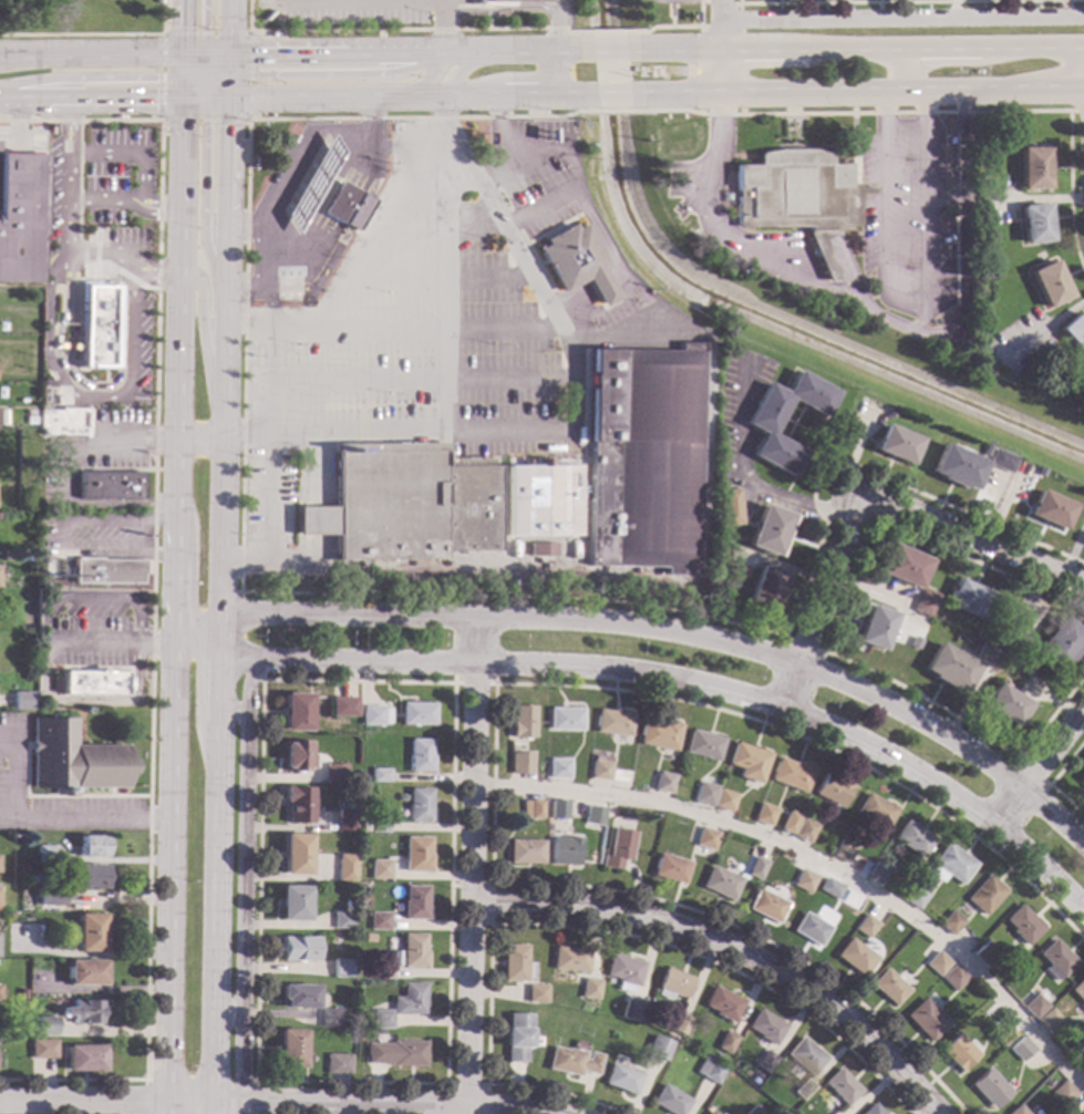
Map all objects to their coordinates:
road: (856, 1)
building: (503, 2)
road: (500, 8)
parking lot: (368, 11)
road: (486, 13)
park: (81, 16)
road: (900, 18)
road: (441, 25)
road: (682, 25)
traffic signals: (178, 27)
road: (206, 27)
traffic signals: (206, 27)
road: (228, 27)
road: (178, 28)
road: (392, 29)
road: (605, 31)
road: (96, 33)
road: (719, 47)
road: (696, 48)
road: (556, 49)
road: (509, 50)
road: (608, 50)
road: (860, 50)
road: (333, 53)
road: (216, 54)
traffic signals: (227, 54)
traffic signals: (256, 54)
road: (441, 54)
road: (452, 54)
road: (87, 55)
traffic signals: (177, 55)
road: (192, 55)
road: (740, 58)
road: (190, 60)
road: (206, 61)
road: (218, 62)
road: (177, 64)
road: (227, 64)
road: (464, 64)
road: (204, 69)
road: (899, 69)
road: (189, 72)
road: (208, 72)
road: (204, 73)
road: (334, 73)
road: (217, 74)
traffic signals: (255, 74)
road: (87, 75)
traffic signals: (155, 75)
road: (207, 76)
road: (187, 83)
road: (420, 85)
road: (177, 86)
road: (227, 86)
road: (206, 87)
road: (863, 89)
road: (214, 90)
road: (568, 96)
road: (612, 96)
road: (363, 97)
road: (527, 97)
road: (89, 99)
traffic signals: (155, 99)
traffic signals: (177, 99)
road: (192, 99)
road: (216, 99)
traffic signals: (227, 99)
road: (610, 109)
road: (1076, 110)
road: (939, 112)
road: (369, 115)
road: (249, 117)
road: (18, 122)
traffic signals: (205, 126)
traffic signals: (227, 126)
road: (817, 144)
road: (564, 146)
road: (851, 148)
road: (226, 154)
road: (299, 158)
building: (984, 163)
building: (1031, 168)
road: (492, 174)
road: (141, 175)
road: (79, 179)
parking lot: (99, 185)
road: (925, 189)
road: (204, 195)
building: (796, 197)
building: (300, 202)
gas station: (307, 203)
road: (941, 203)
road: (157, 206)
building: (347, 206)
building: (20, 216)
road: (880, 218)
parking lot: (904, 221)
road: (246, 223)
road: (68, 224)
building: (1033, 224)
road: (435, 228)
road: (711, 229)
road: (958, 233)
road: (363, 238)
road: (809, 241)
building: (979, 249)
road: (95, 252)
road: (83, 257)
road: (519, 259)
building: (574, 264)
road: (611, 265)
road: (435, 277)
road: (99, 279)
road: (135, 280)
building: (1047, 285)
road: (249, 292)
road: (173, 310)
road: (63, 316)
parking lot: (424, 319)
road: (880, 319)
building: (97, 326)
road: (434, 329)
road: (245, 330)
road: (289, 330)
building: (1073, 333)
road: (203, 337)
building: (989, 342)
road: (419, 379)
building: (1023, 379)
building: (47, 383)
road: (93, 385)
road: (704, 389)
road: (83, 396)
road: (221, 413)
building: (887, 413)
building: (64, 423)
road: (421, 429)
building: (761, 429)
road: (245, 433)
building: (894, 445)
road: (64, 447)
building: (983, 451)
building: (642, 458)
building: (999, 462)
building: (1026, 467)
building: (954, 468)
road: (110, 470)
road: (269, 471)
road: (737, 483)
building: (111, 485)
building: (540, 501)
road: (865, 503)
building: (405, 504)
building: (727, 507)
building: (1049, 510)
road: (320, 518)
road: (113, 523)
road: (158, 524)
building: (766, 530)
road: (140, 539)
building: (720, 545)
building: (539, 550)
road: (100, 553)
building: (900, 567)
road: (442, 569)
building: (107, 570)
road: (172, 580)
road: (562, 582)
building: (764, 587)
road: (153, 591)
road: (344, 595)
building: (967, 599)
road: (95, 600)
building: (922, 604)
parking lot: (96, 628)
road: (196, 628)
building: (873, 628)
road: (680, 632)
road: (827, 635)
road: (241, 639)
road: (110, 642)
building: (912, 643)
building: (1057, 644)
building: (1021, 647)
road: (85, 654)
building: (987, 656)
road: (452, 661)
building: (1005, 661)
road: (107, 667)
building: (948, 668)
road: (218, 669)
road: (814, 674)
road: (659, 678)
building: (93, 683)
road: (452, 683)
building: (23, 701)
road: (90, 701)
building: (1003, 705)
building: (343, 706)
road: (231, 708)
building: (296, 713)
building: (416, 714)
building: (373, 716)
building: (564, 719)
building: (520, 723)
building: (613, 724)
road: (493, 725)
building: (658, 735)
building: (702, 746)
parking lot: (12, 755)
building: (296, 756)
building: (417, 756)
building: (73, 760)
building: (747, 762)
building: (519, 764)
building: (557, 769)
road: (1039, 769)
building: (599, 770)
road: (1032, 772)
building: (1081, 772)
building: (334, 774)
building: (791, 775)
building: (379, 776)
road: (1050, 782)
building: (663, 783)
building: (832, 791)
road: (61, 794)
building: (704, 794)
building: (723, 801)
building: (297, 805)
building: (417, 805)
road: (69, 808)
building: (530, 809)
building: (557, 809)
building: (875, 813)
building: (591, 815)
building: (763, 815)
building: (344, 822)
building: (787, 822)
road: (43, 823)
building: (376, 826)
building: (804, 832)
road: (167, 835)
building: (705, 839)
building: (912, 839)
building: (93, 847)
building: (617, 849)
building: (524, 852)
building: (564, 852)
building: (842, 852)
building: (44, 855)
building: (295, 855)
building: (414, 855)
road: (815, 862)
road: (471, 865)
building: (949, 865)
building: (864, 867)
building: (344, 868)
building: (755, 868)
building: (379, 869)
building: (669, 869)
building: (879, 871)
building: (87, 877)
road: (242, 880)
building: (803, 881)
building: (720, 883)
road: (489, 884)
building: (829, 889)
building: (984, 896)
building: (52, 897)
building: (915, 898)
building: (848, 899)
building: (413, 902)
building: (292, 904)
building: (765, 906)
road: (216, 912)
building: (341, 920)
building: (376, 921)
building: (950, 924)
building: (1022, 926)
road: (580, 927)
building: (865, 927)
building: (809, 929)
building: (89, 934)
building: (367, 939)
building: (297, 949)
building: (412, 951)
road: (730, 951)
building: (985, 953)
building: (854, 958)
building: (394, 959)
building: (568, 960)
building: (1056, 960)
building: (513, 963)
building: (936, 963)
building: (341, 969)
building: (379, 972)
building: (623, 972)
building: (85, 973)
building: (953, 978)
building: (672, 984)
building: (887, 988)
building: (588, 989)
building: (1078, 991)
building: (535, 994)
building: (296, 997)
building: (634, 1003)
building: (722, 1004)
building: (400, 1007)
building: (1034, 1008)
building: (83, 1012)
building: (328, 1018)
building: (629, 1019)
building: (926, 1020)
building: (1050, 1021)
building: (679, 1024)
building: (47, 1027)
building: (766, 1028)
building: (1002, 1034)
building: (516, 1036)
building: (726, 1043)
building: (290, 1050)
building: (658, 1050)
building: (1020, 1050)
building: (957, 1053)
building: (398, 1054)
building: (69, 1055)
building: (805, 1056)
building: (572, 1062)
building: (765, 1063)
building: (337, 1064)
road: (165, 1067)
building: (1083, 1067)
building: (709, 1071)
road: (217, 1080)
building: (621, 1080)
road: (465, 1083)
building: (842, 1087)
building: (803, 1090)
building: (989, 1090)
building: (1063, 1094)
road: (122, 1096)
building: (669, 1102)
road: (82, 1103)
road: (189, 1103)
road: (227, 1104)
road: (393, 1105)
road: (138, 1108)
road: (164, 1108)
road: (215, 1108)
road: (240, 1108)
building: (873, 1110)
road: (1080, 1110)
building: (753, 1111)
building: (1015, 1111)
building: (710, 1113)

